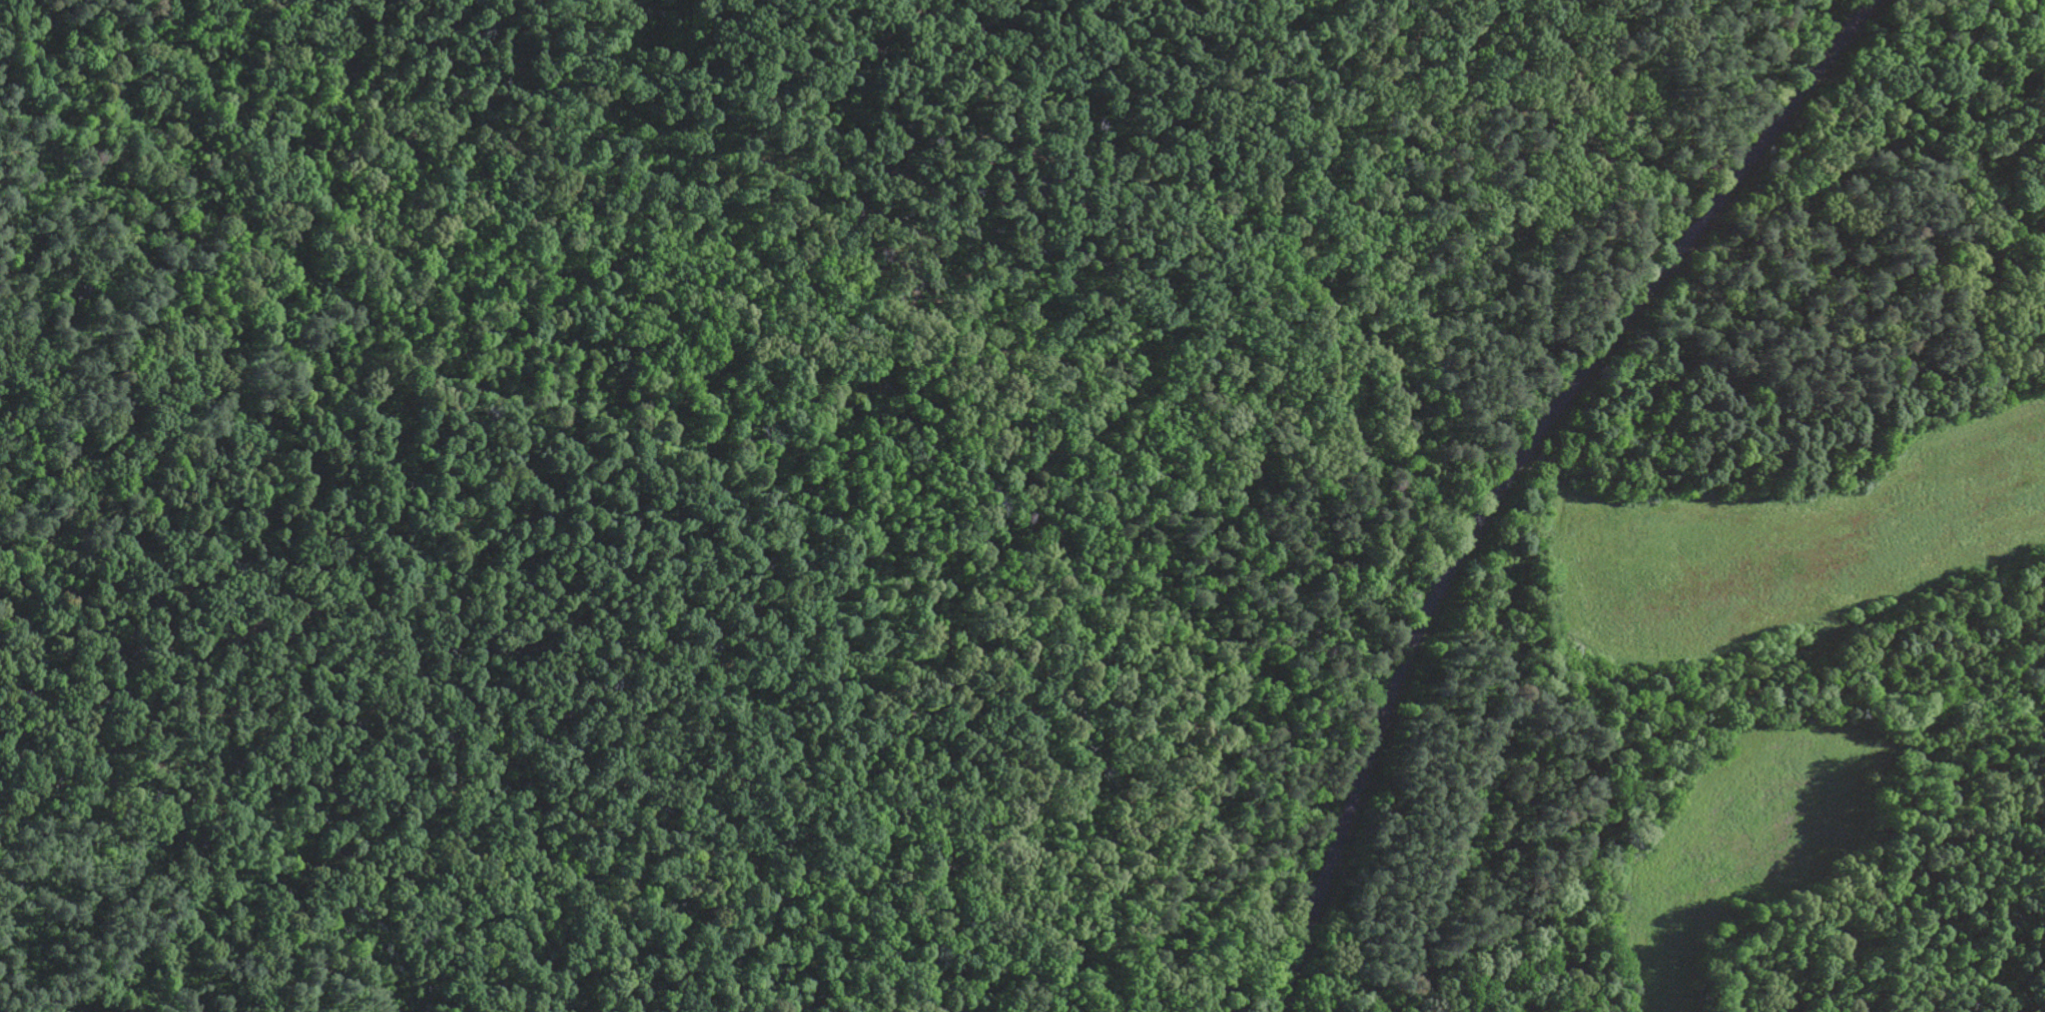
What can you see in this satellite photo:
road: (1515, 472)

